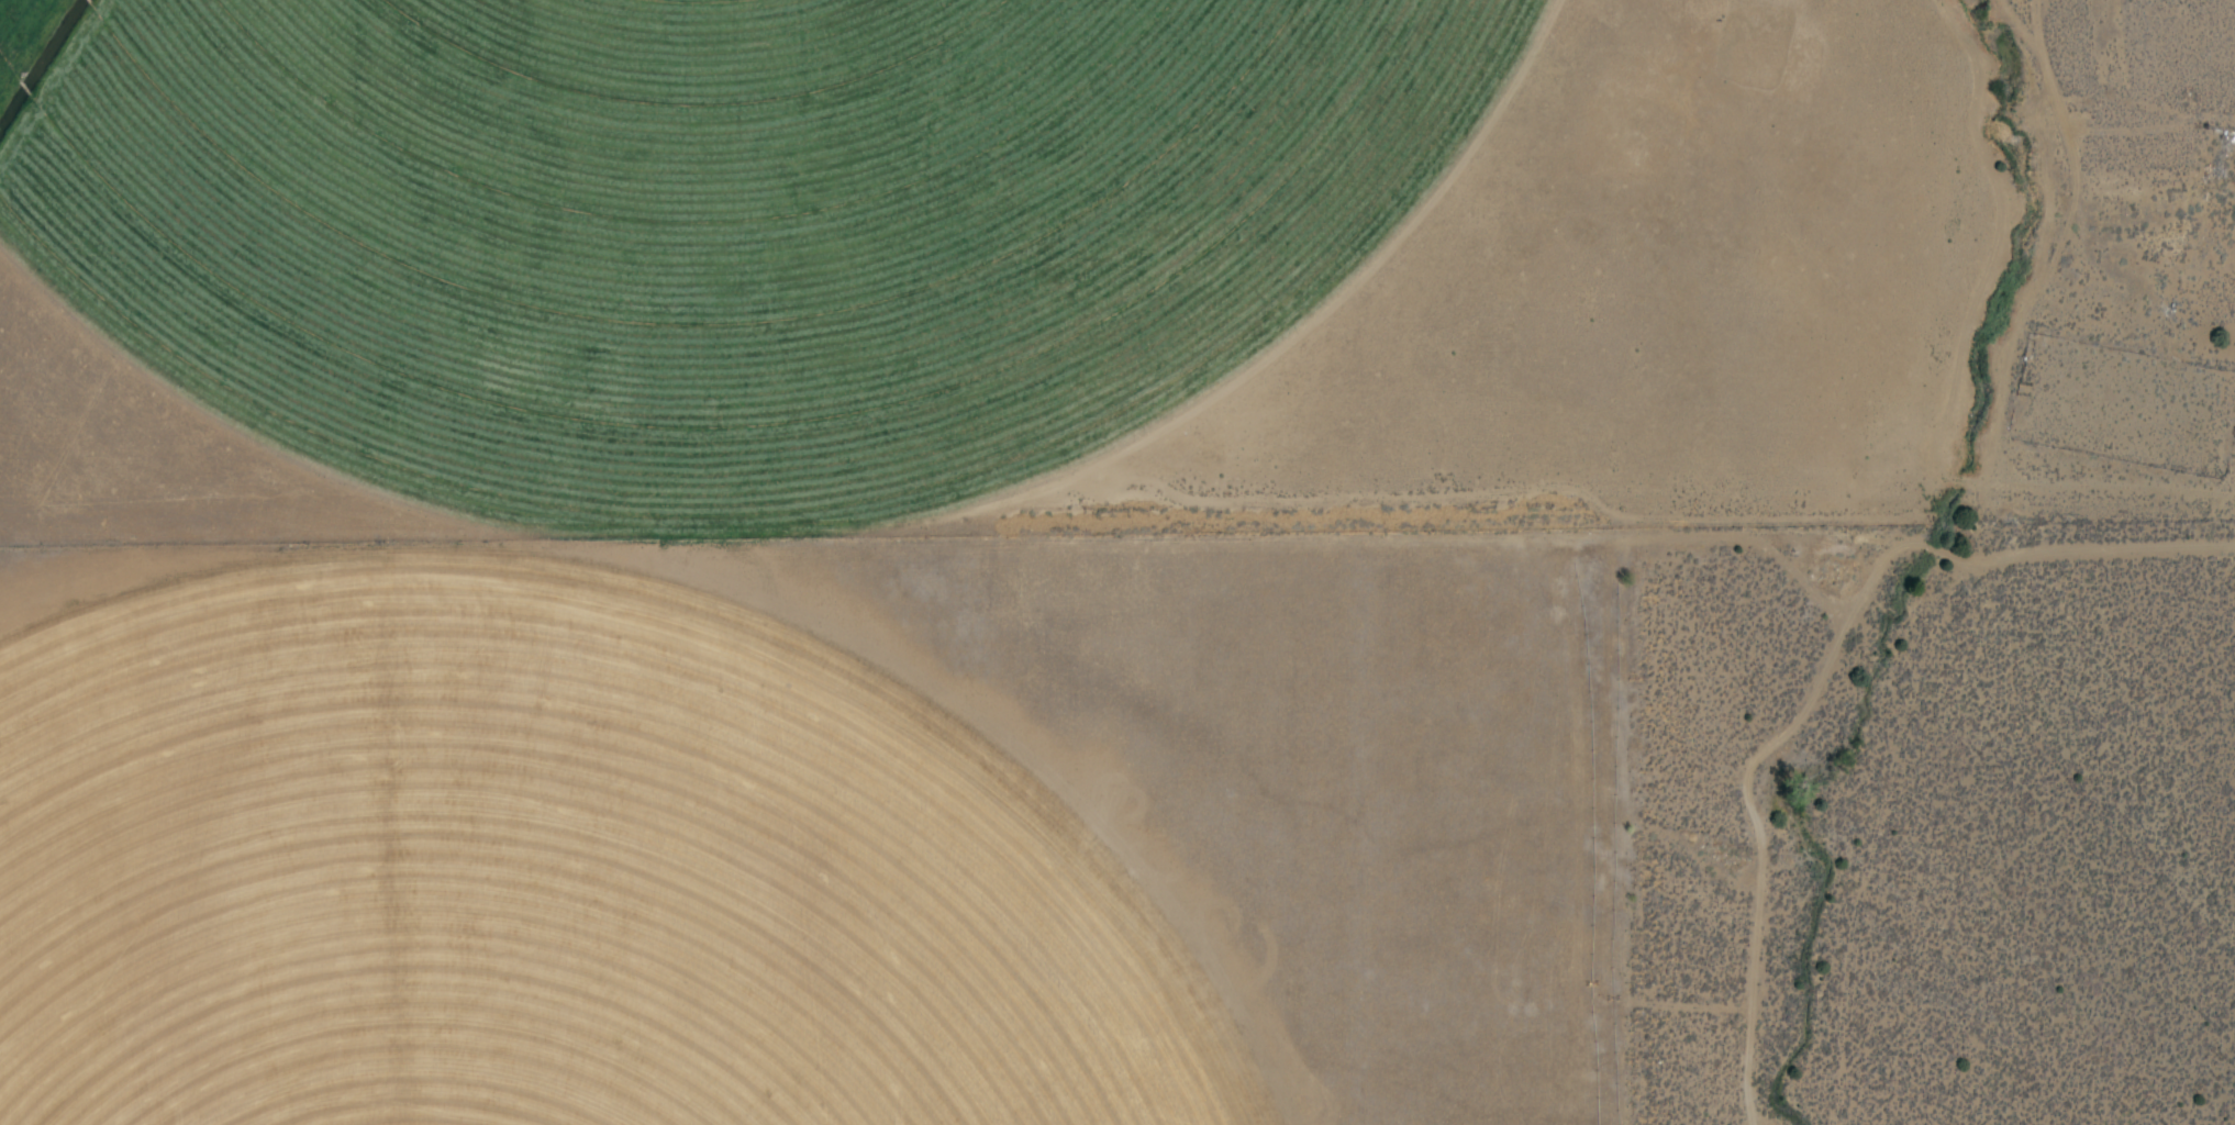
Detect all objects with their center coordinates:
crop: (771, 589)
road: (1816, 664)

